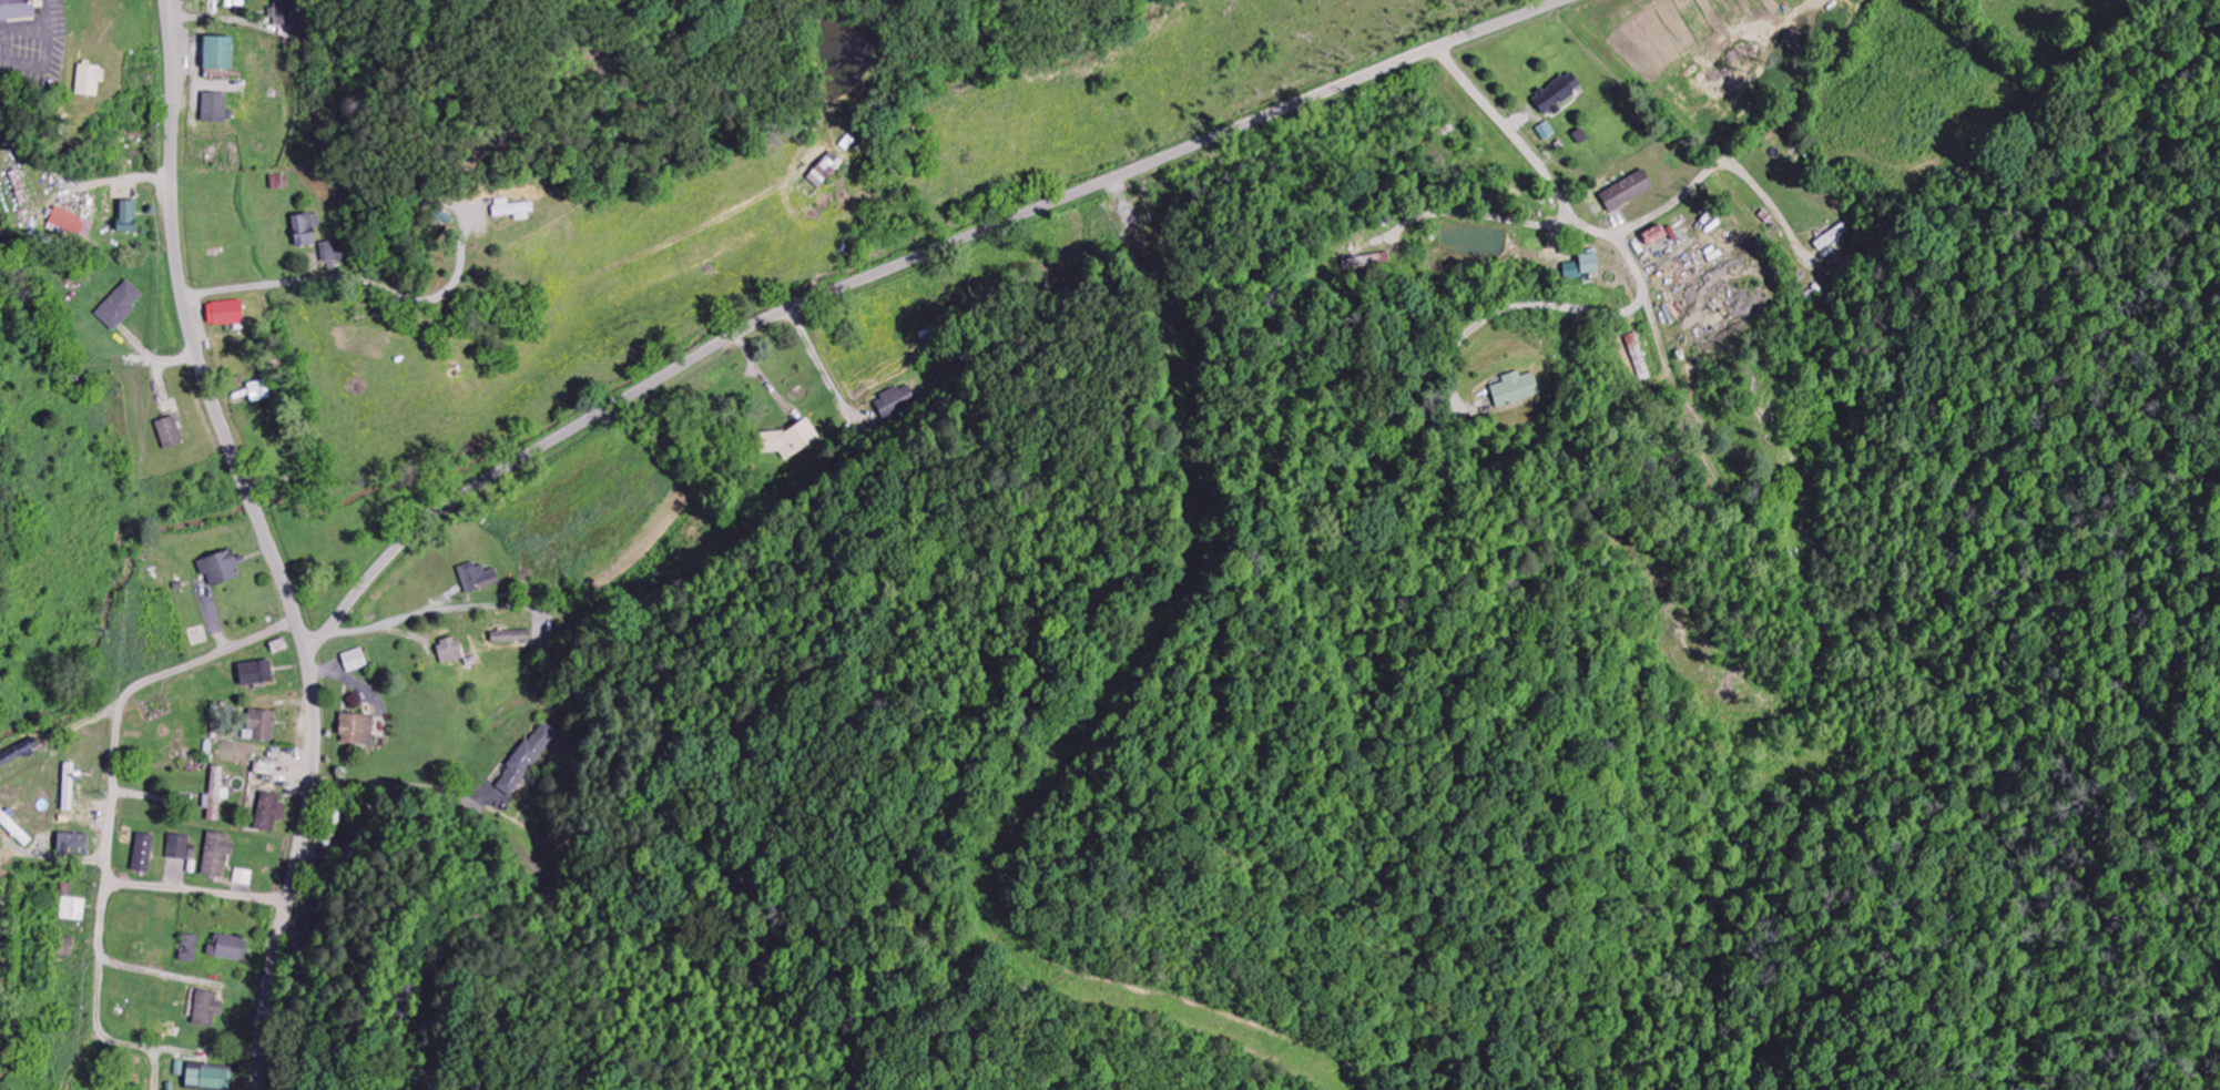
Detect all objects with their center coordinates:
road: (171, 3)
road: (173, 3)
building: (17, 10)
building: (284, 16)
building: (218, 54)
building: (90, 80)
building: (214, 108)
building: (1547, 131)
building: (825, 170)
building: (19, 187)
road: (1555, 187)
building: (1628, 191)
building: (513, 210)
building: (128, 217)
building: (69, 222)
building: (305, 231)
building: (1656, 236)
building: (332, 252)
road: (896, 266)
road: (343, 267)
building: (1583, 267)
building: (120, 306)
building: (225, 314)
building: (1639, 357)
building: (1515, 389)
building: (258, 391)
building: (897, 401)
building: (170, 434)
building: (793, 439)
road: (271, 547)
building: (220, 568)
building: (478, 578)
building: (512, 636)
building: (450, 650)
building: (355, 661)
building: (256, 672)
road: (124, 704)
building: (261, 725)
building: (357, 730)
building: (527, 760)
building: (69, 787)
building: (216, 794)
building: (269, 812)
building: (73, 844)
building: (179, 847)
building: (143, 853)
building: (216, 854)
building: (243, 877)
road: (210, 892)
building: (73, 909)
building: (230, 948)
building: (189, 953)
building: (206, 1008)
building: (210, 1077)

